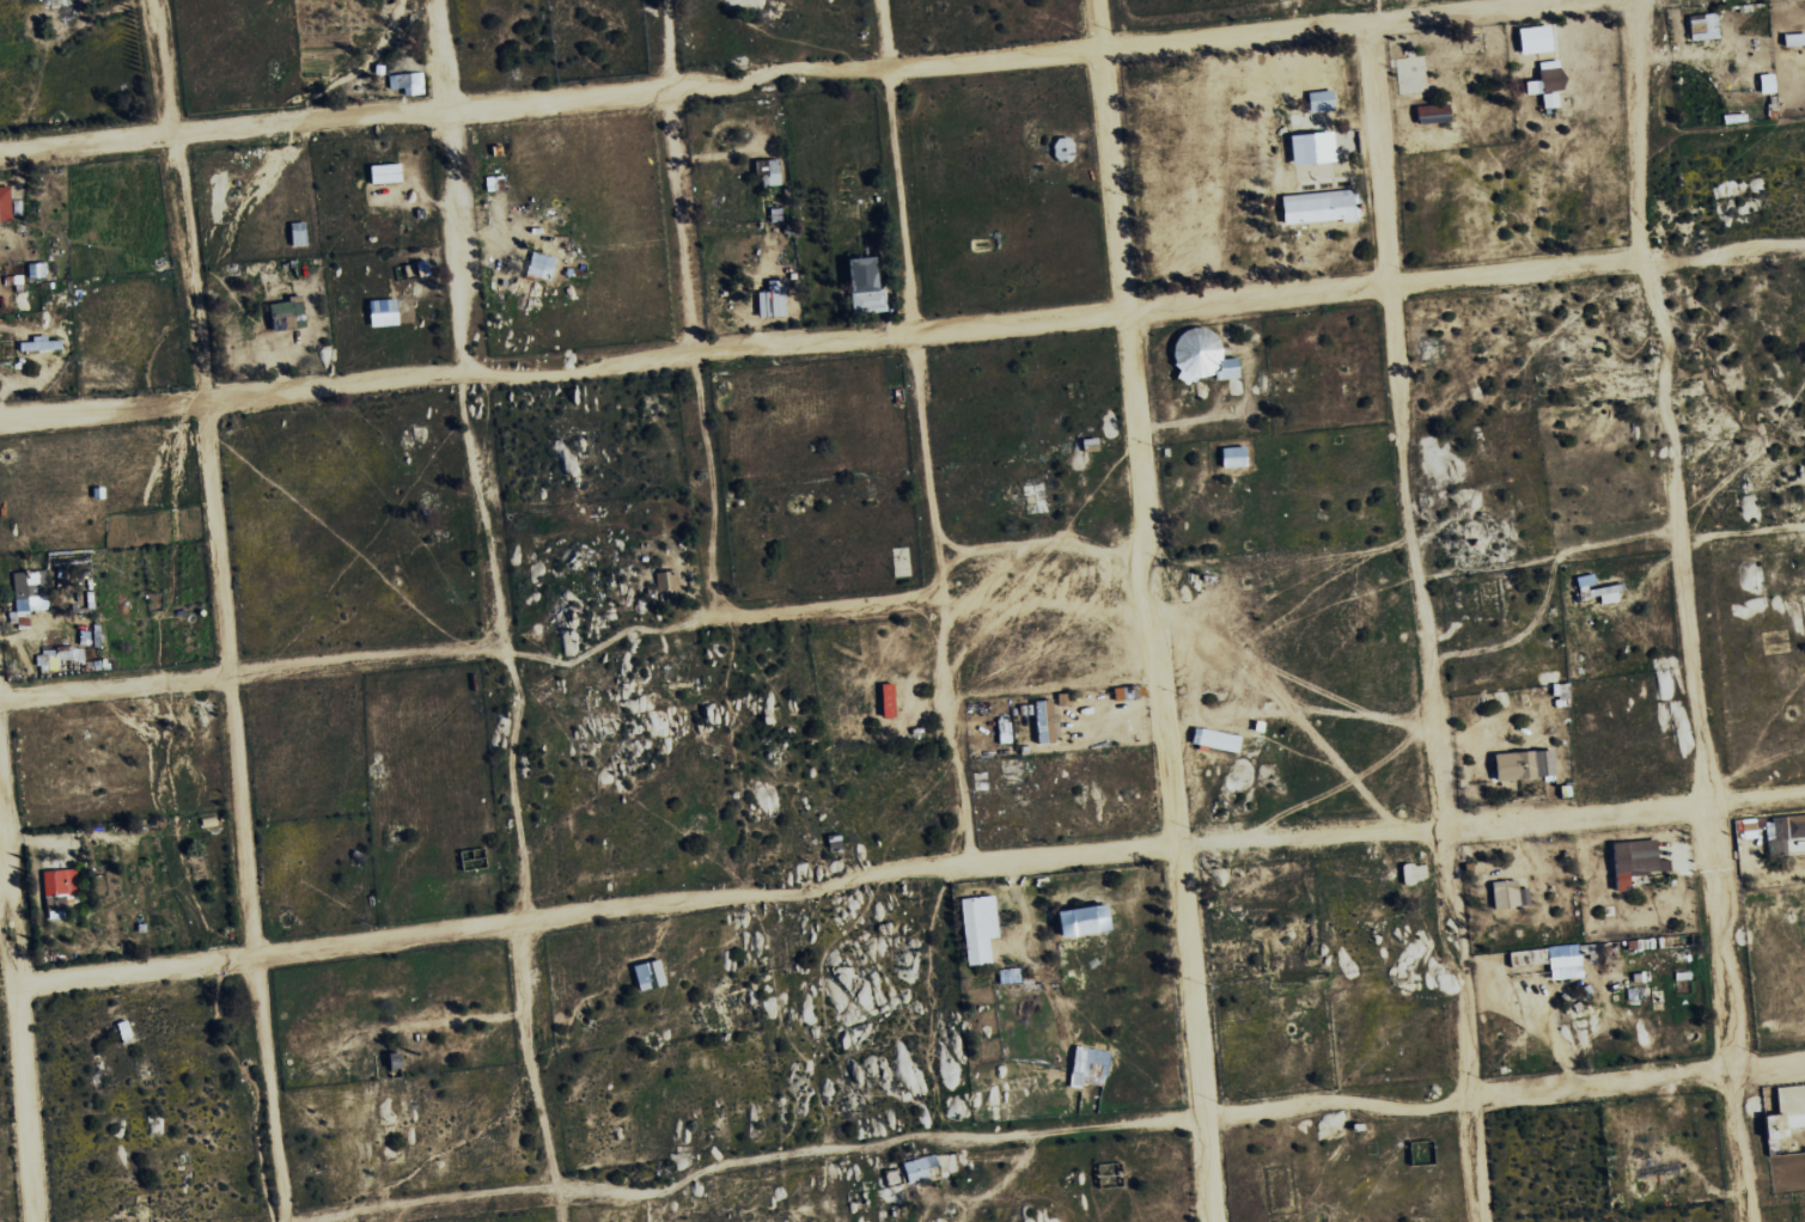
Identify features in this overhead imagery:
building: (1701, 26)
building: (1530, 38)
road: (781, 79)
building: (409, 83)
building: (1543, 83)
building: (1763, 83)
building: (1317, 100)
building: (1429, 114)
building: (770, 171)
building: (389, 173)
building: (6, 204)
building: (1315, 207)
building: (300, 233)
building: (543, 265)
building: (868, 285)
building: (774, 301)
road: (688, 308)
building: (291, 314)
road: (902, 335)
building: (1224, 368)
road: (923, 433)
road: (1743, 532)
road: (1041, 552)
road: (828, 609)
road: (1688, 609)
road: (219, 610)
road: (495, 611)
road: (1151, 611)
road: (1417, 622)
road: (606, 640)
road: (250, 671)
road: (908, 873)
road: (18, 1026)

